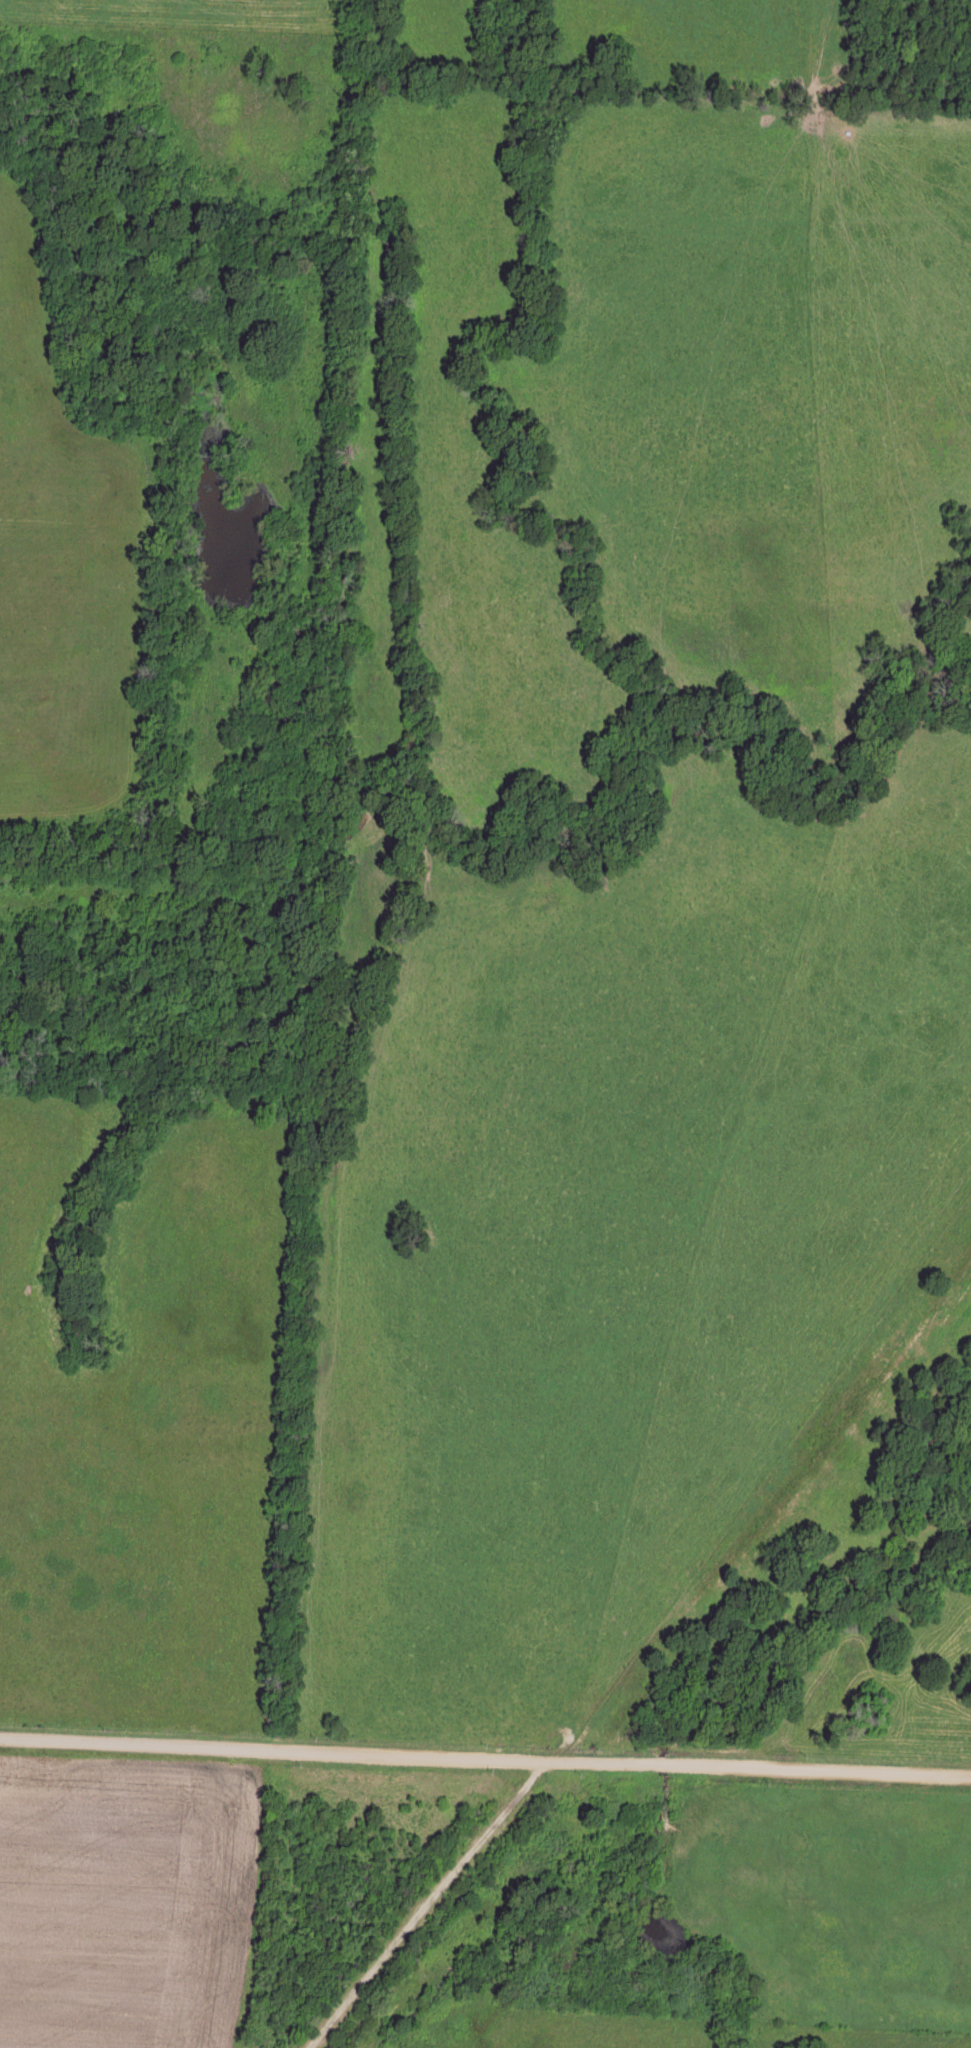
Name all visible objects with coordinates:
road: (485, 1762)

